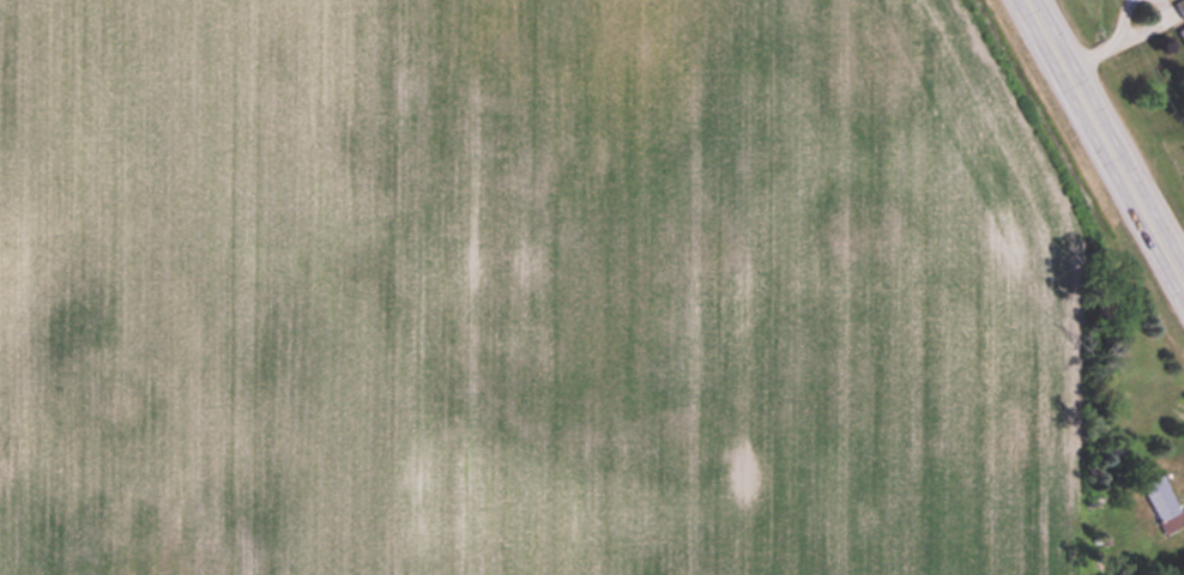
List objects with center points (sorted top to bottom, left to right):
building: (1179, 12)
road: (1105, 144)
road: (1174, 252)
building: (1164, 506)

